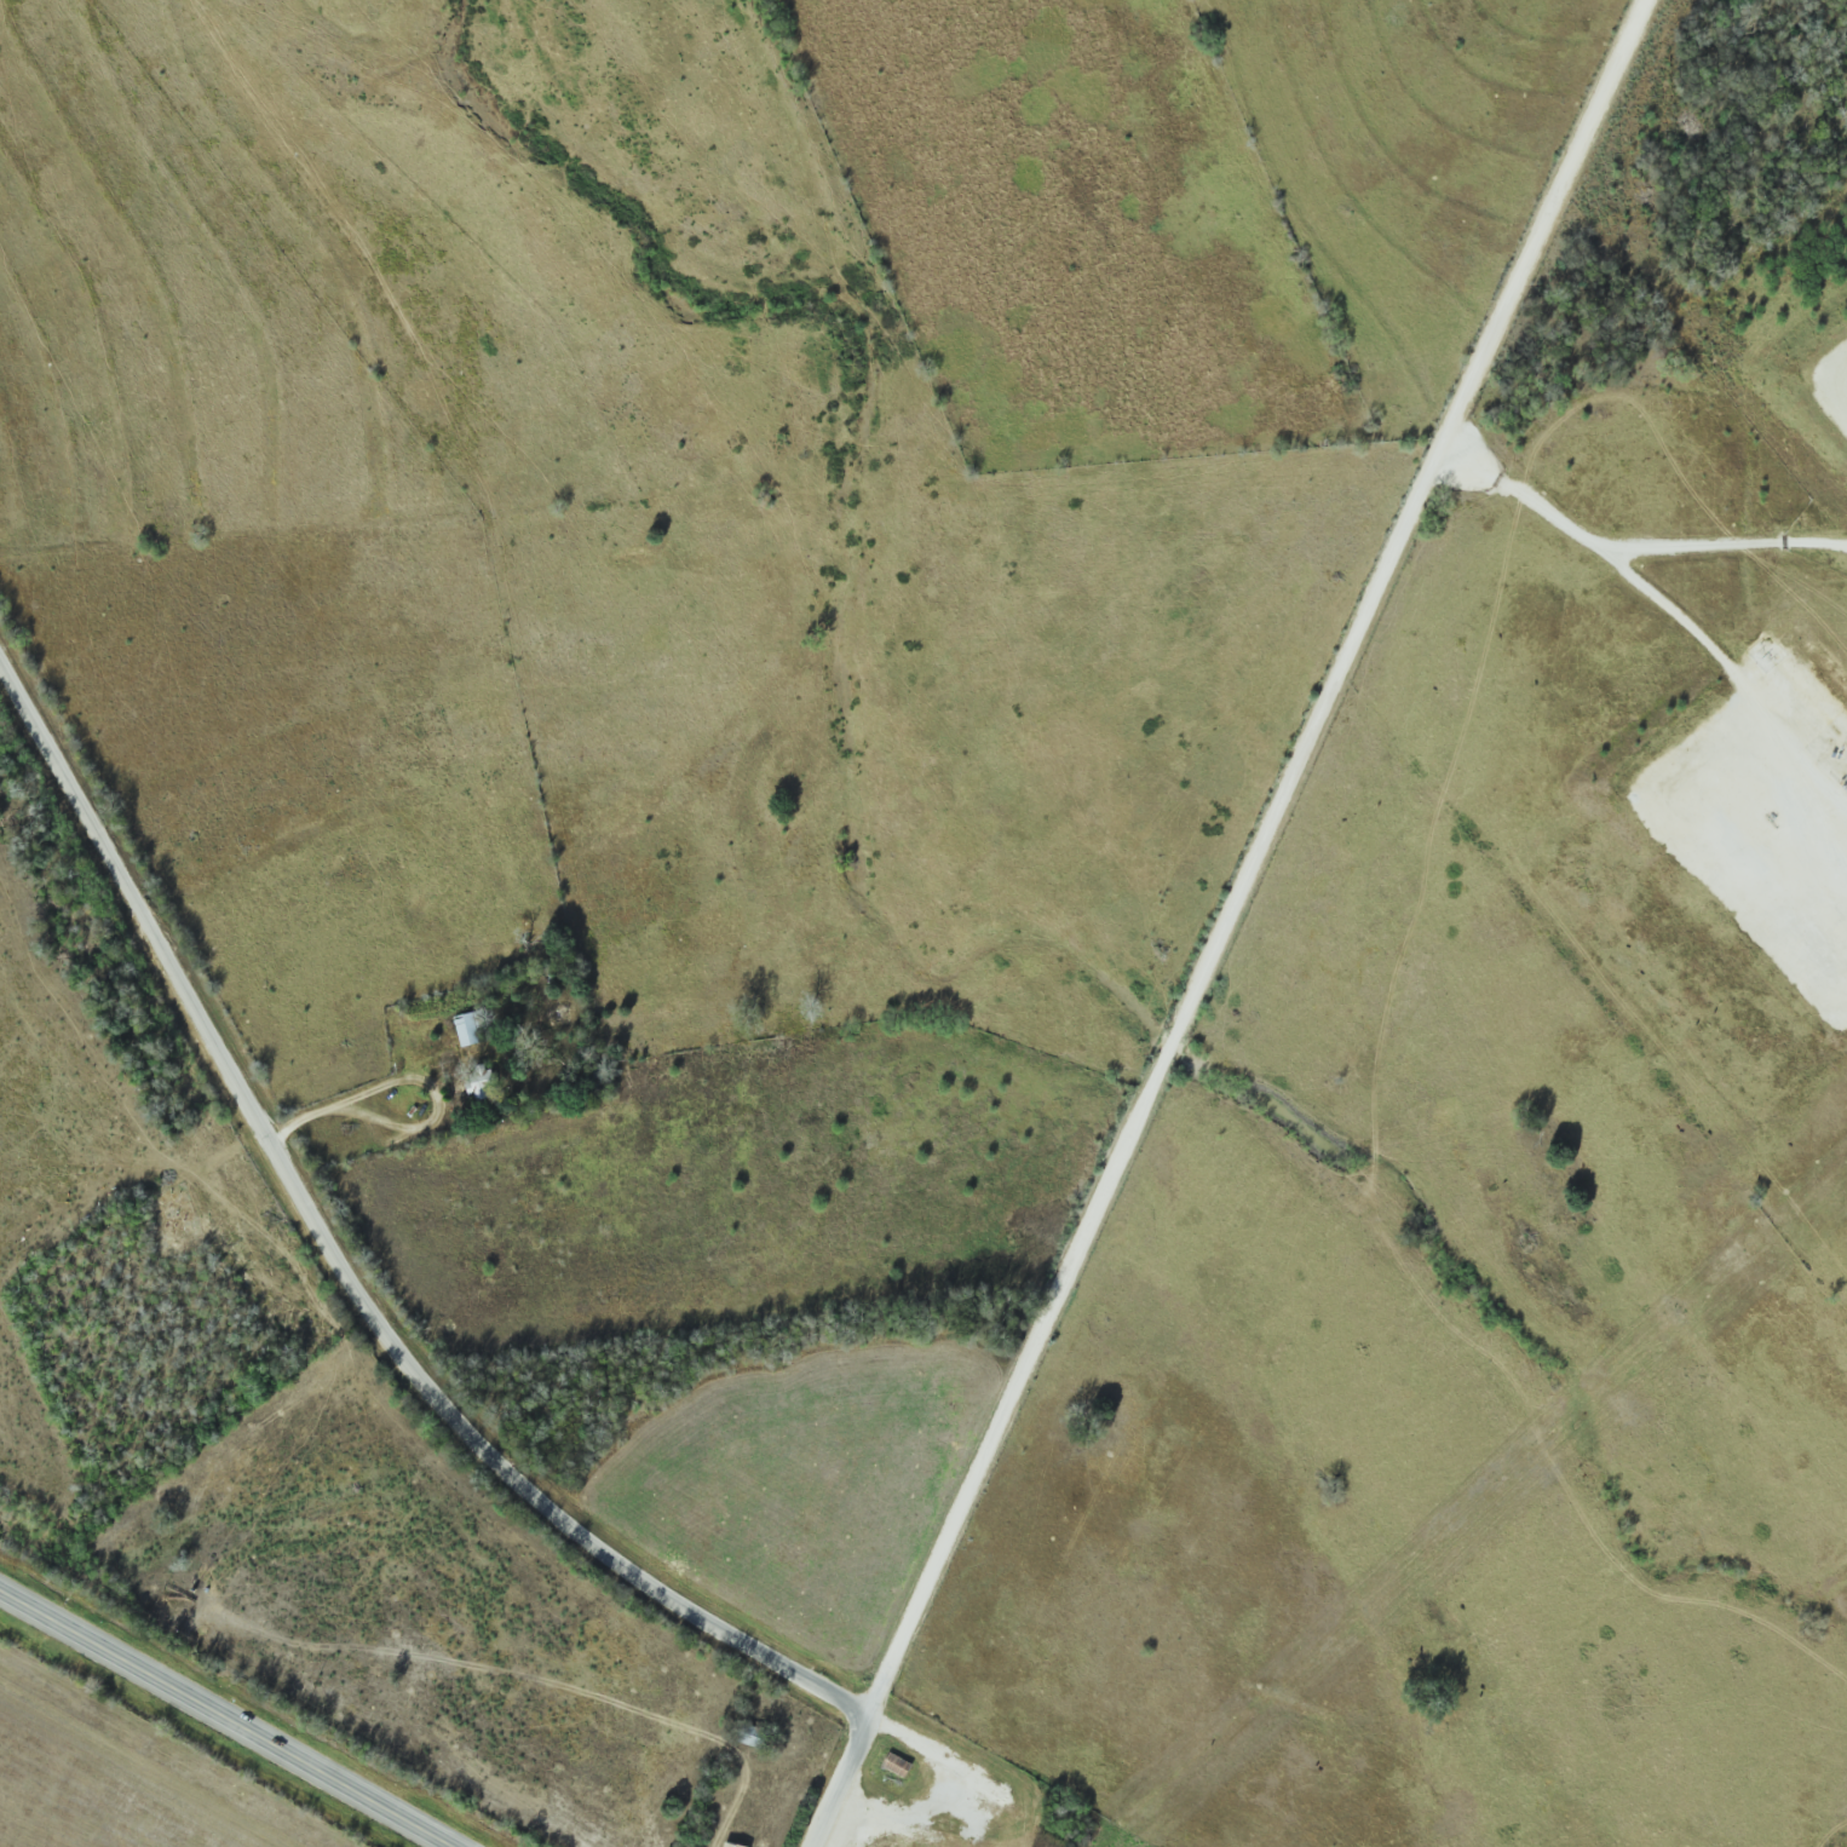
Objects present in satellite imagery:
road: (1611, 562)
road: (1731, 562)
road: (1806, 858)
road: (1229, 921)
park: (169, 1222)
road: (344, 1261)
road: (226, 1719)
building: (732, 1845)

